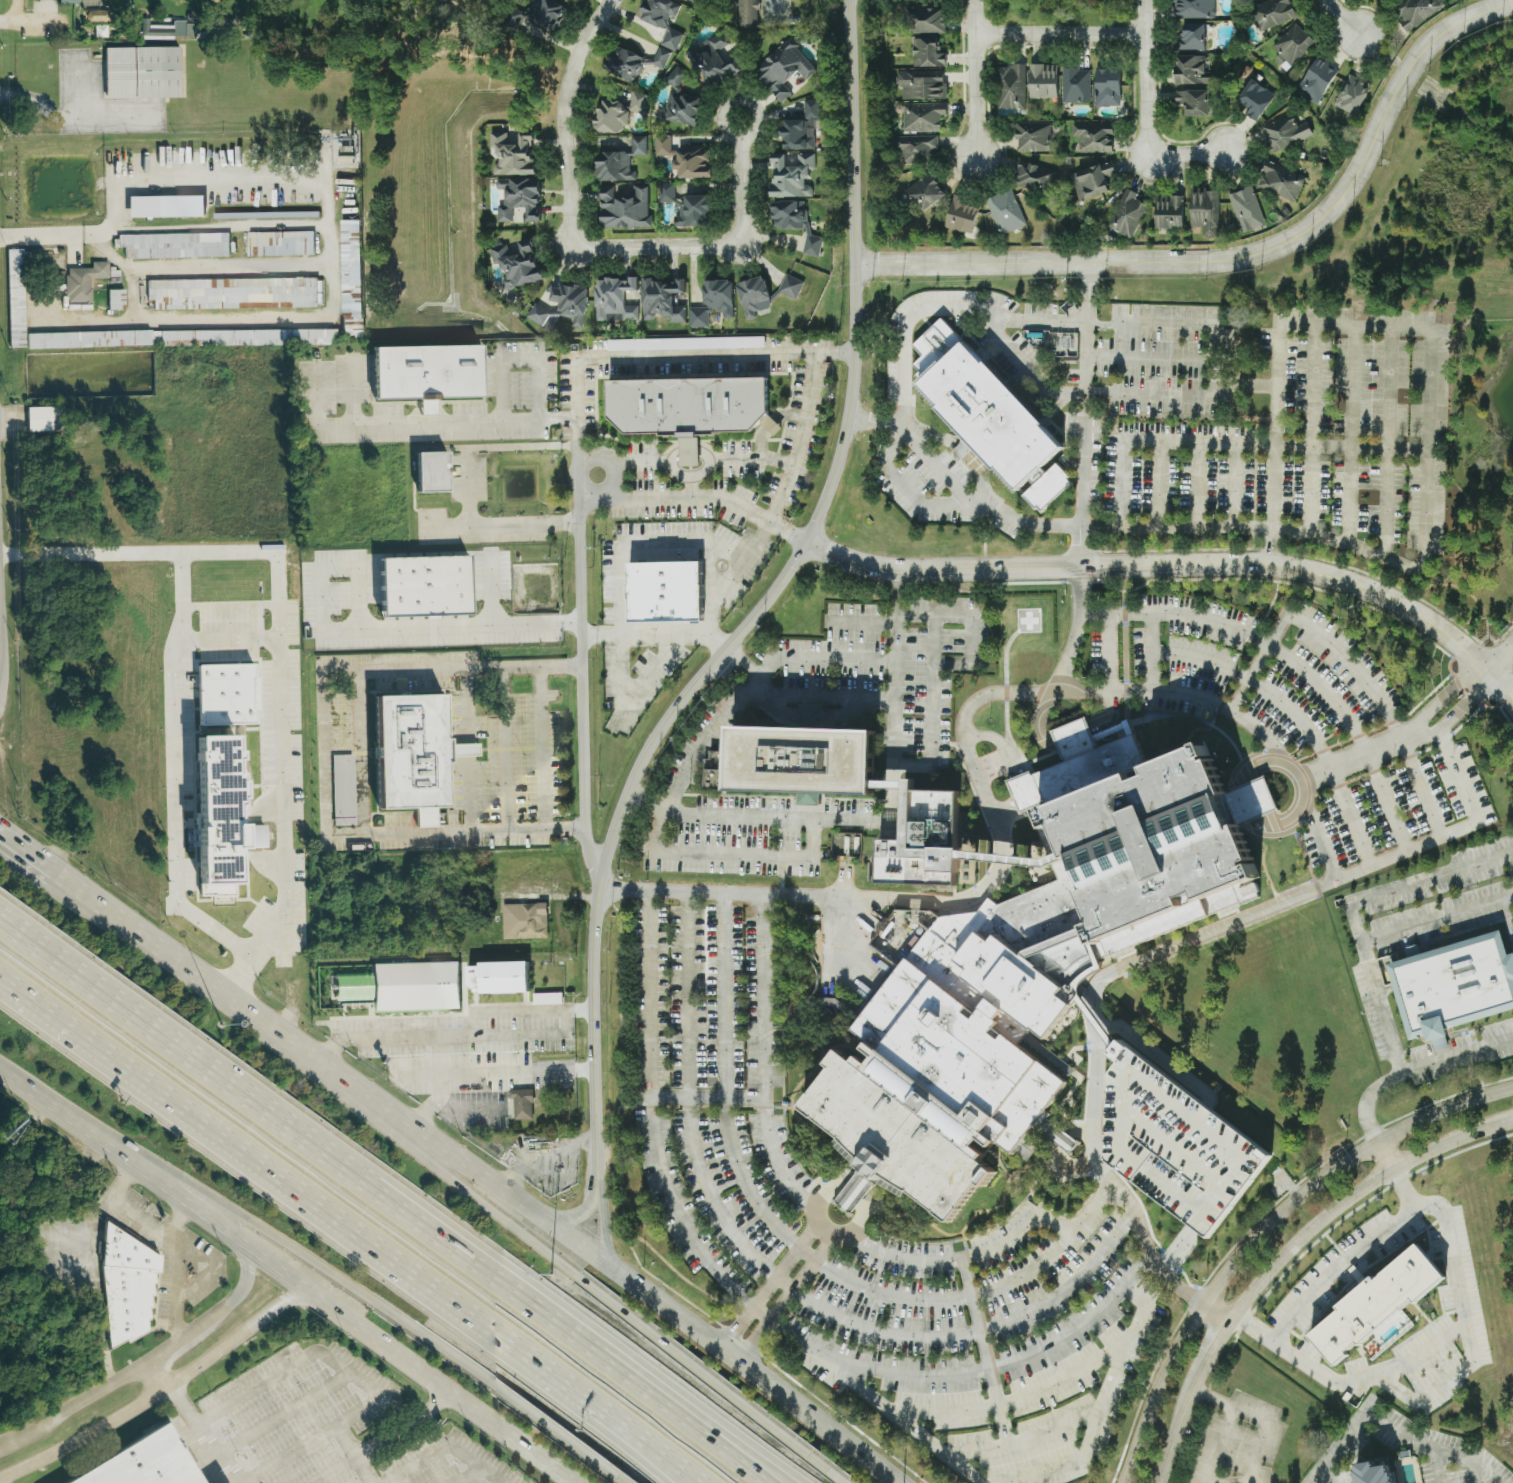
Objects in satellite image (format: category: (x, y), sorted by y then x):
building: (79, 0)
building: (688, 0)
building: (1193, 9)
road: (770, 10)
building: (1415, 11)
park: (1059, 12)
building: (542, 13)
building: (746, 13)
building: (1271, 13)
road: (974, 16)
road: (1341, 17)
road: (17, 18)
building: (662, 20)
building: (927, 20)
building: (181, 28)
building: (155, 31)
road: (1059, 32)
building: (1191, 37)
building: (1291, 46)
building: (925, 52)
building: (660, 58)
building: (712, 60)
building: (624, 62)
building: (782, 68)
building: (1191, 70)
building: (139, 72)
building: (675, 76)
road: (1145, 78)
building: (1042, 80)
building: (1315, 80)
building: (919, 85)
building: (1074, 85)
building: (1011, 86)
building: (1106, 86)
road: (975, 94)
building: (1351, 95)
building: (1254, 99)
building: (1192, 101)
building: (636, 102)
road: (738, 103)
building: (682, 108)
road: (75, 116)
building: (608, 116)
building: (921, 116)
road: (563, 117)
building: (799, 128)
building: (1284, 132)
building: (1032, 136)
building: (1092, 137)
building: (916, 148)
building: (510, 153)
road: (1186, 153)
building: (684, 157)
building: (618, 161)
building: (789, 175)
building: (1035, 176)
building: (1090, 180)
building: (1279, 181)
building: (924, 191)
building: (665, 192)
road: (741, 192)
building: (518, 198)
building: (141, 206)
building: (623, 207)
building: (1245, 209)
building: (692, 210)
building: (1168, 211)
building: (1204, 211)
building: (1004, 212)
building: (1126, 213)
building: (961, 214)
building: (793, 221)
road: (95, 236)
building: (279, 243)
building: (174, 245)
road: (656, 246)
road: (1244, 256)
building: (516, 263)
road: (237, 268)
building: (349, 277)
building: (82, 281)
building: (789, 286)
building: (231, 293)
building: (752, 296)
building: (14, 298)
building: (114, 299)
building: (613, 299)
building: (661, 299)
building: (711, 302)
building: (561, 305)
road: (204, 321)
road: (936, 332)
building: (220, 337)
building: (690, 343)
road: (1429, 349)
road: (837, 355)
road: (805, 357)
road: (520, 358)
road: (1151, 358)
road: (1215, 359)
road: (1029, 370)
building: (425, 373)
road: (1245, 386)
building: (688, 407)
road: (1085, 415)
building: (36, 418)
road: (432, 421)
building: (999, 426)
road: (1312, 428)
road: (1351, 434)
road: (1232, 442)
road: (1387, 442)
road: (600, 456)
building: (429, 471)
road: (470, 483)
road: (1160, 483)
road: (1196, 484)
road: (1234, 484)
road: (908, 490)
road: (706, 499)
road: (980, 501)
road: (1177, 525)
road: (1267, 546)
road: (621, 547)
road: (1274, 547)
road: (203, 553)
road: (1179, 565)
building: (422, 586)
road: (494, 591)
building: (665, 592)
road: (759, 609)
helipad: (1028, 620)
road: (430, 624)
road: (1075, 631)
road: (666, 634)
road: (1, 644)
road: (1150, 650)
road: (1109, 651)
road: (1499, 654)
road: (1292, 659)
road: (870, 661)
road: (743, 662)
road: (1, 671)
road: (729, 678)
road: (581, 679)
road: (1443, 693)
building: (225, 694)
road: (822, 695)
road: (630, 697)
road: (464, 706)
road: (1385, 710)
road: (1459, 713)
road: (1296, 717)
road: (1066, 737)
road: (465, 749)
road: (504, 749)
road: (542, 749)
road: (361, 751)
building: (411, 754)
road: (695, 756)
road: (1358, 756)
building: (804, 760)
road: (1015, 765)
road: (179, 772)
road: (1297, 776)
building: (341, 790)
road: (469, 792)
road: (1244, 806)
building: (217, 818)
road: (856, 820)
road: (996, 821)
road: (6, 830)
road: (6, 835)
building: (921, 839)
road: (282, 849)
road: (35, 852)
building: (1118, 852)
road: (727, 855)
road: (548, 896)
road: (1354, 916)
road: (1232, 920)
building: (523, 921)
road: (142, 930)
road: (837, 933)
building: (497, 977)
building: (1453, 984)
building: (414, 986)
road: (1379, 1001)
road: (469, 1036)
road: (341, 1040)
road: (403, 1040)
road: (764, 1058)
road: (1415, 1066)
building: (942, 1067)
road: (517, 1069)
road: (1094, 1075)
road: (725, 1081)
road: (707, 1096)
road: (690, 1098)
building: (521, 1103)
road: (650, 1114)
road: (1060, 1133)
road: (309, 1139)
building: (1063, 1139)
building: (1175, 1145)
road: (436, 1165)
road: (854, 1194)
road: (1127, 1201)
road: (130, 1204)
road: (313, 1208)
road: (815, 1209)
road: (1045, 1216)
road: (574, 1217)
road: (860, 1228)
road: (1260, 1228)
road: (604, 1229)
road: (564, 1234)
road: (284, 1244)
road: (1286, 1252)
road: (904, 1259)
road: (179, 1269)
road: (1335, 1269)
road: (288, 1277)
road: (1169, 1281)
building: (128, 1286)
road: (768, 1287)
road: (937, 1298)
road: (783, 1299)
building: (1376, 1306)
road: (975, 1312)
road: (970, 1332)
road: (1423, 1353)
road: (342, 1359)
road: (142, 1364)
road: (159, 1372)
road: (964, 1372)
road: (1453, 1375)
road: (156, 1390)
road: (999, 1406)
road: (1101, 1406)
road: (747, 1408)
road: (283, 1414)
road: (684, 1425)
road: (708, 1425)
road: (906, 1426)
road: (1226, 1426)
road: (409, 1428)
road: (198, 1432)
road: (1024, 1440)
road: (442, 1444)
road: (1431, 1445)
road: (1335, 1449)
road: (289, 1453)
road: (595, 1457)
road: (654, 1458)
road: (660, 1458)
building: (140, 1462)
road: (336, 1470)
building: (1376, 1473)
road: (468, 1474)
road: (373, 1482)

